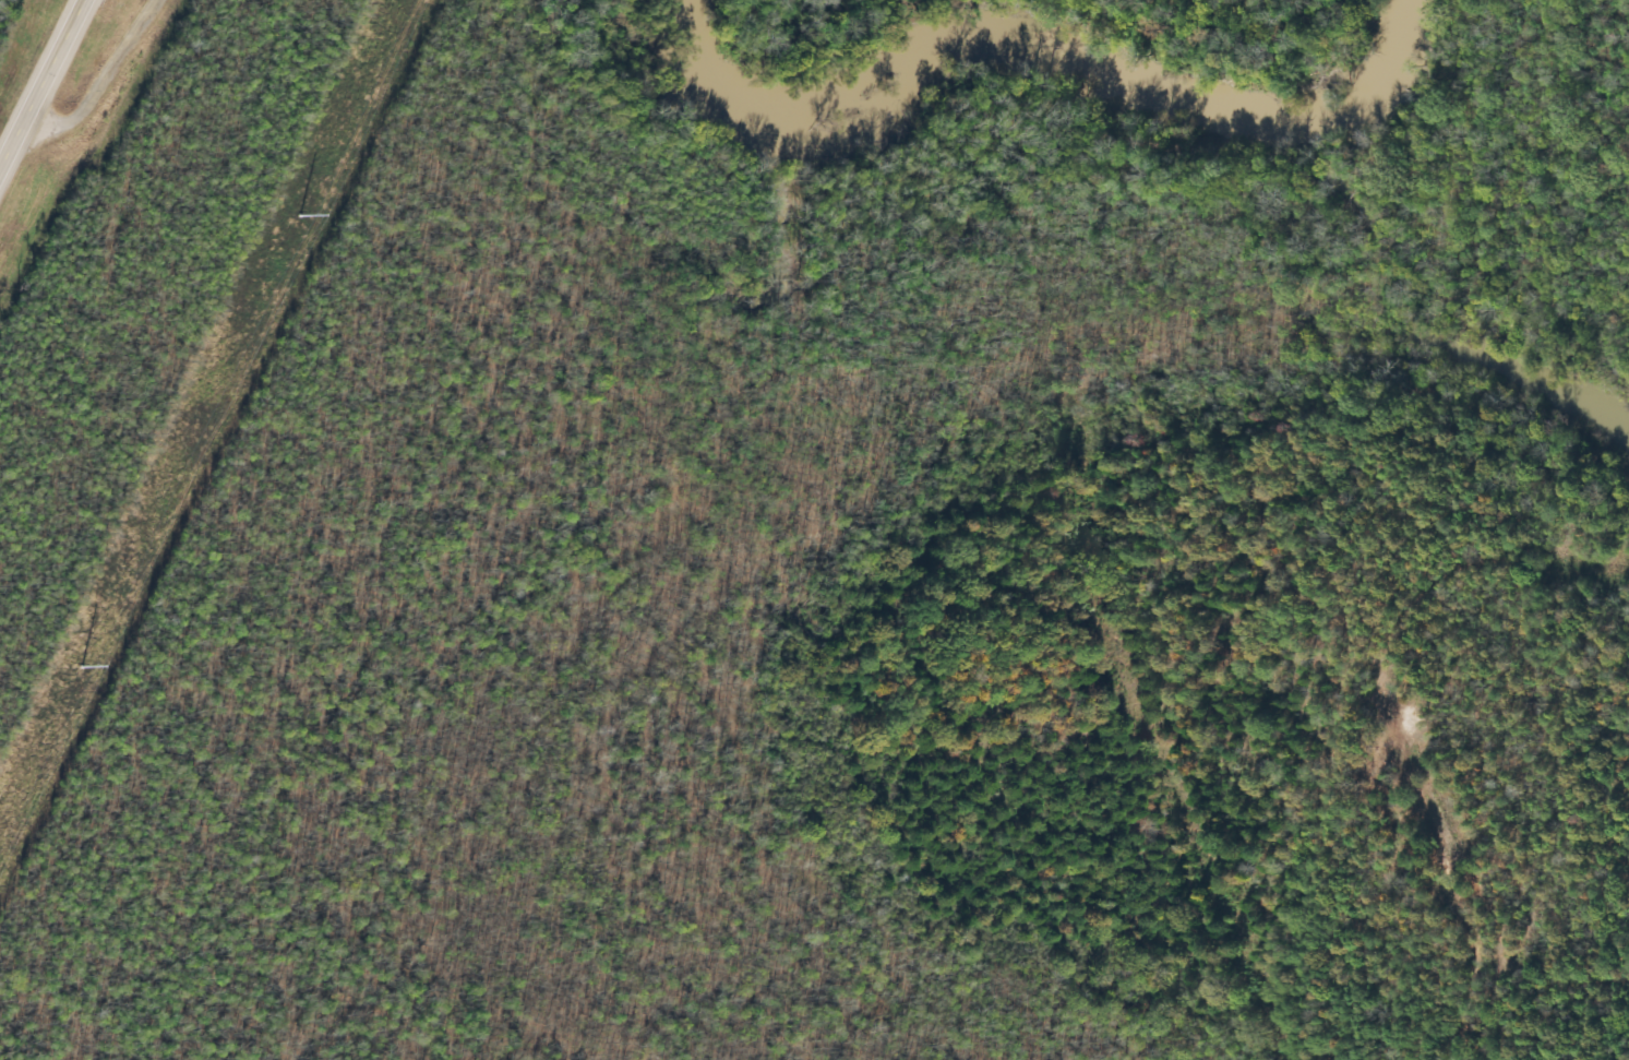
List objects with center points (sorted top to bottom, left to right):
river: (1035, 46)
road: (37, 74)
power tower: (225, 366)
power tower: (52, 731)

